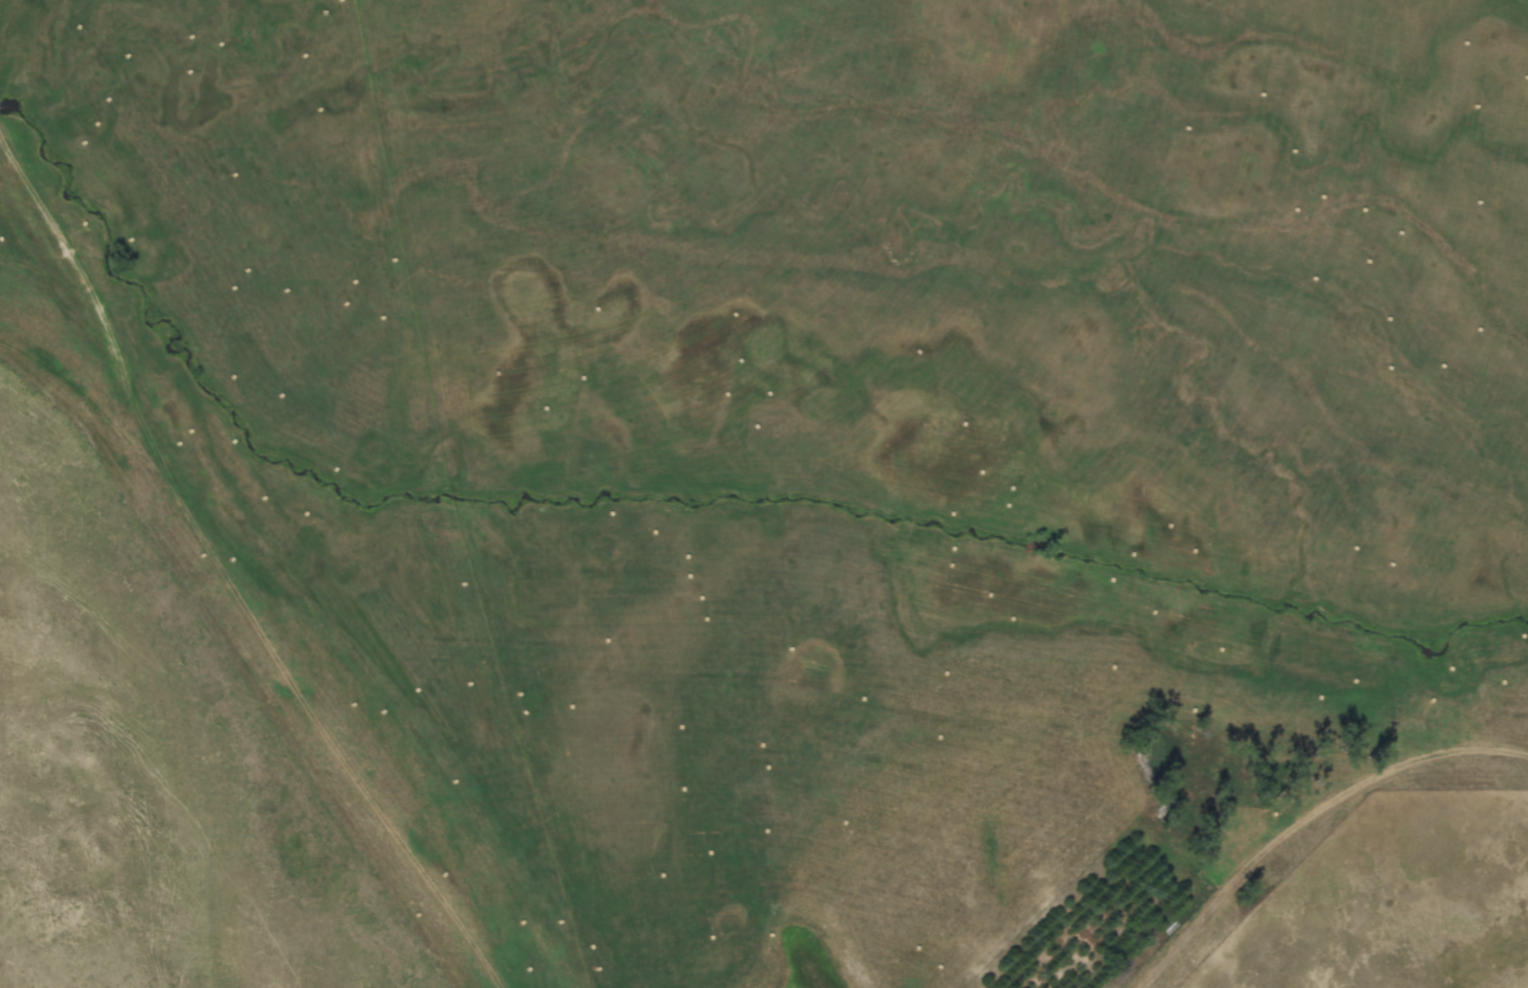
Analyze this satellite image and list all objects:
road: (1308, 819)

